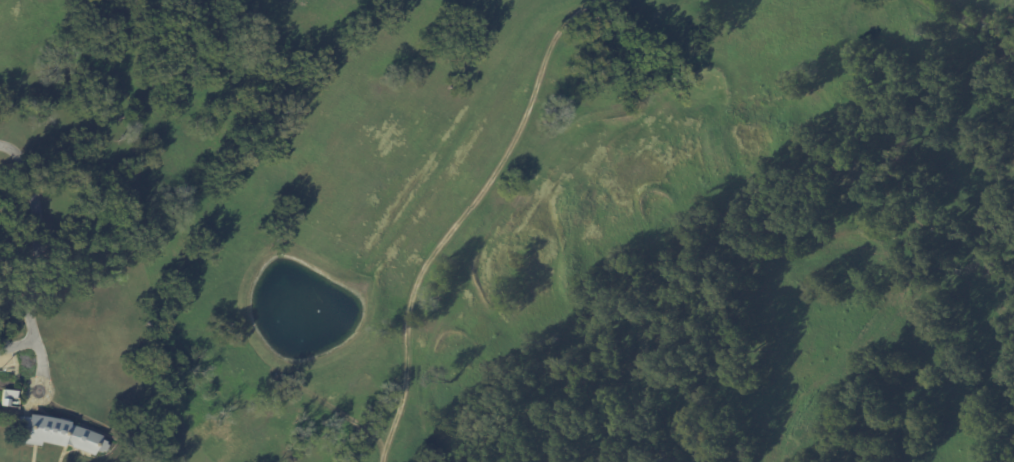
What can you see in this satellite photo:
road: (461, 220)
road: (38, 256)
road: (18, 344)
road: (29, 385)
building: (8, 397)
road: (102, 424)
building: (57, 433)

